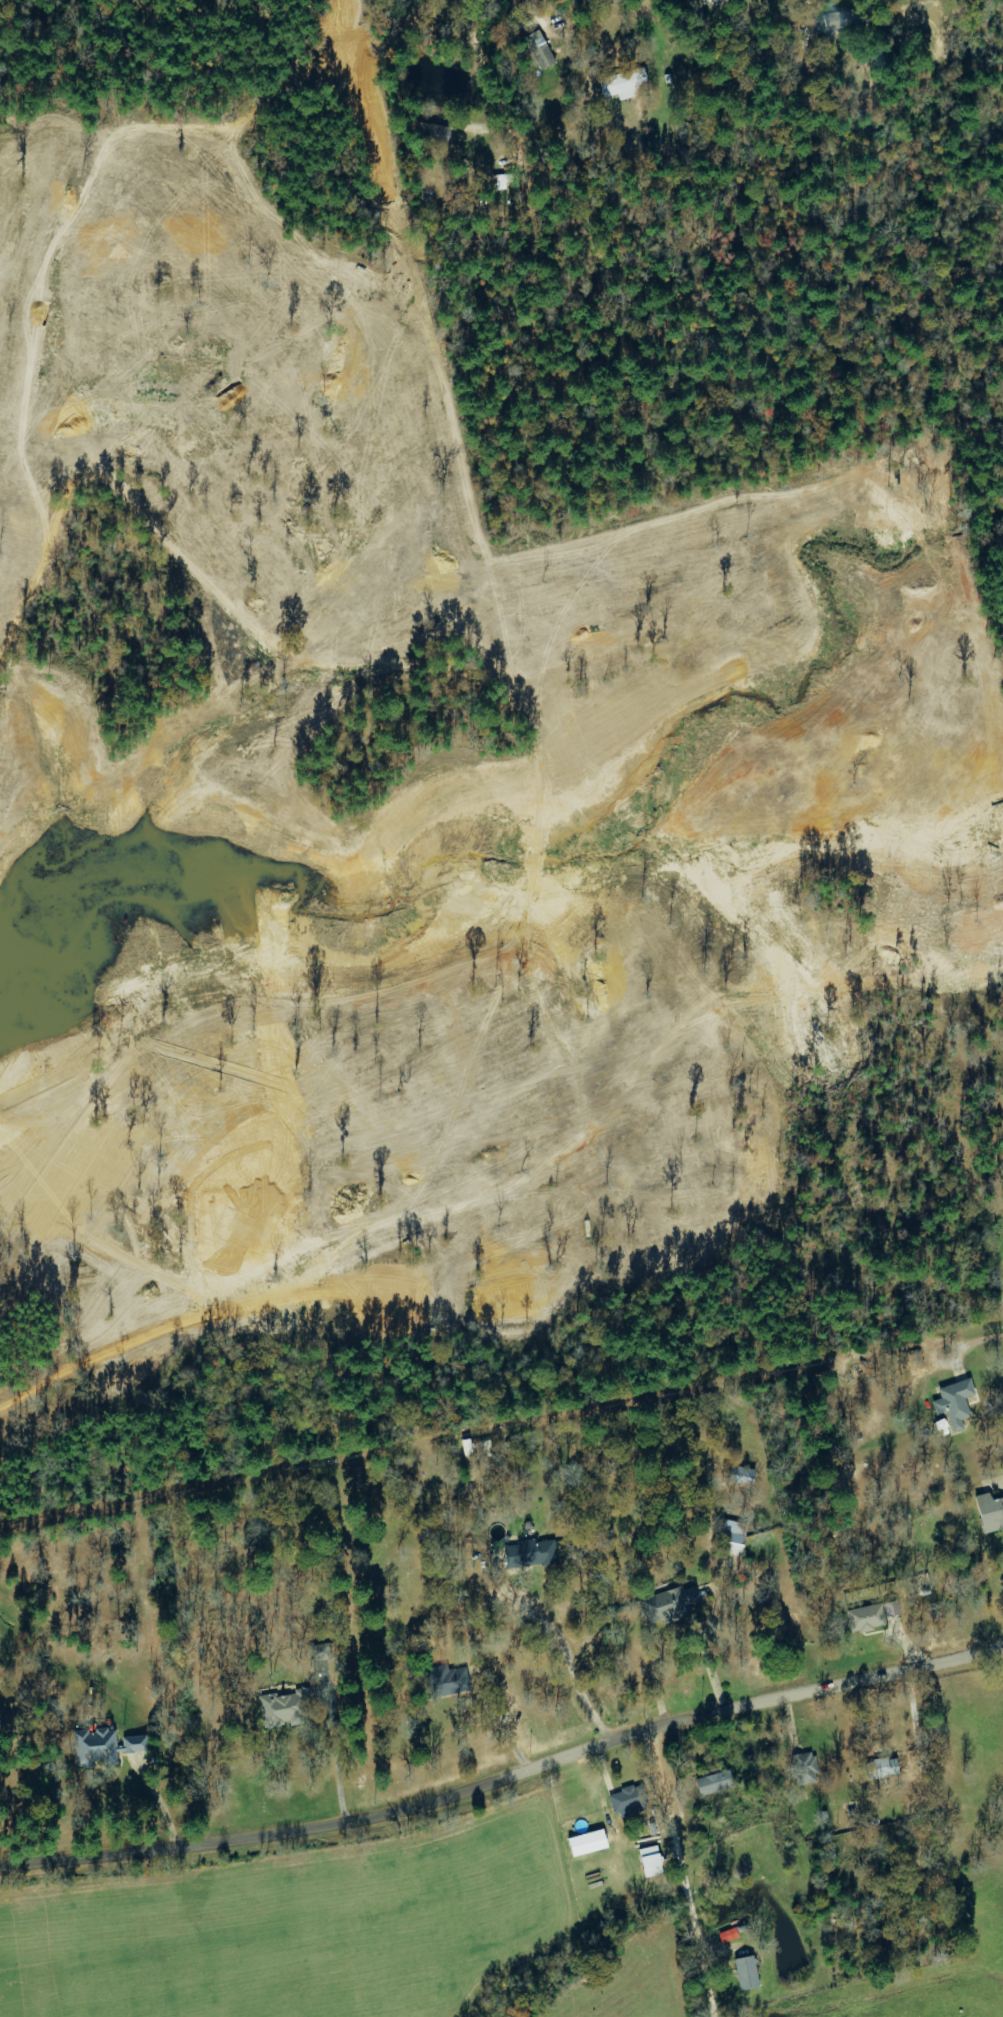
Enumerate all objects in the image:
building: (836, 20)
building: (539, 50)
building: (623, 84)
building: (954, 1403)
building: (476, 1448)
road: (598, 1474)
building: (740, 1475)
building: (990, 1511)
building: (731, 1537)
building: (530, 1553)
building: (1002, 1579)
building: (668, 1600)
building: (891, 1608)
building: (865, 1618)
building: (321, 1652)
building: (450, 1679)
building: (286, 1707)
building: (106, 1745)
building: (804, 1768)
building: (882, 1768)
road: (506, 1781)
building: (714, 1783)
building: (628, 1801)
building: (586, 1843)
building: (649, 1861)
road: (684, 1874)
building: (746, 1972)

